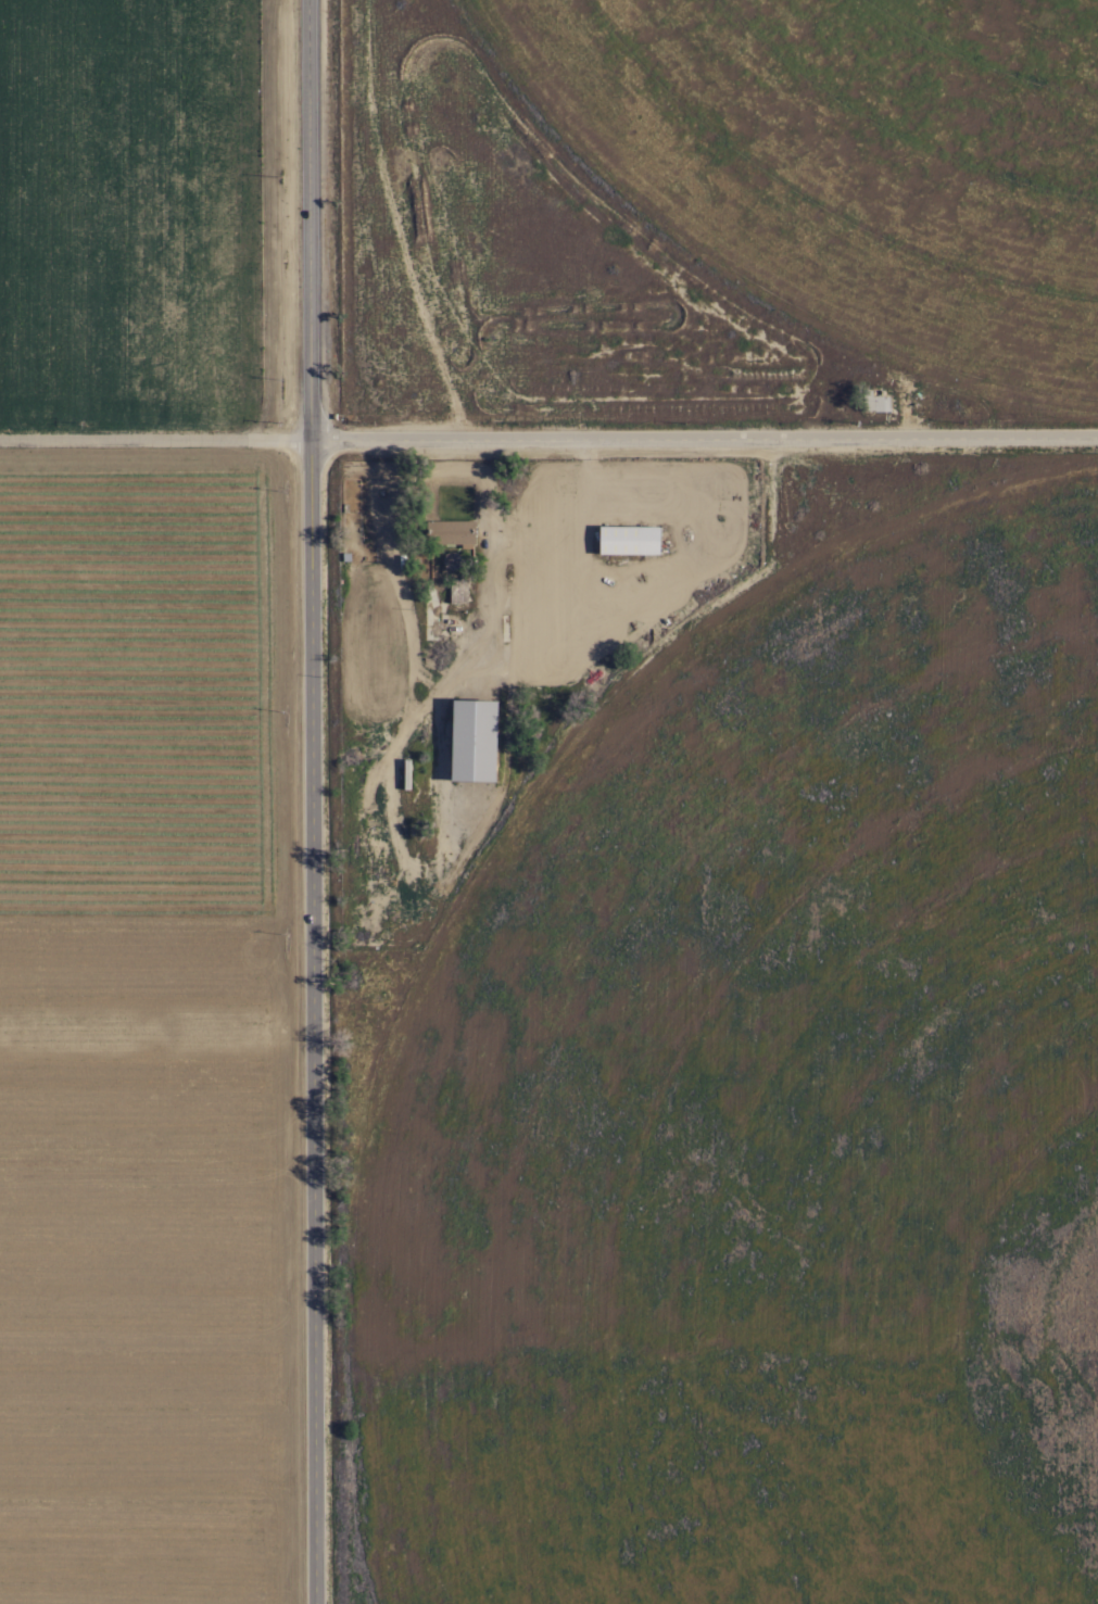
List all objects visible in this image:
crop: (853, 161)
building: (875, 402)
road: (548, 439)
building: (451, 531)
building: (631, 536)
building: (451, 558)
building: (458, 589)
building: (476, 737)
road: (314, 801)
crop: (156, 811)
crop: (768, 1114)

